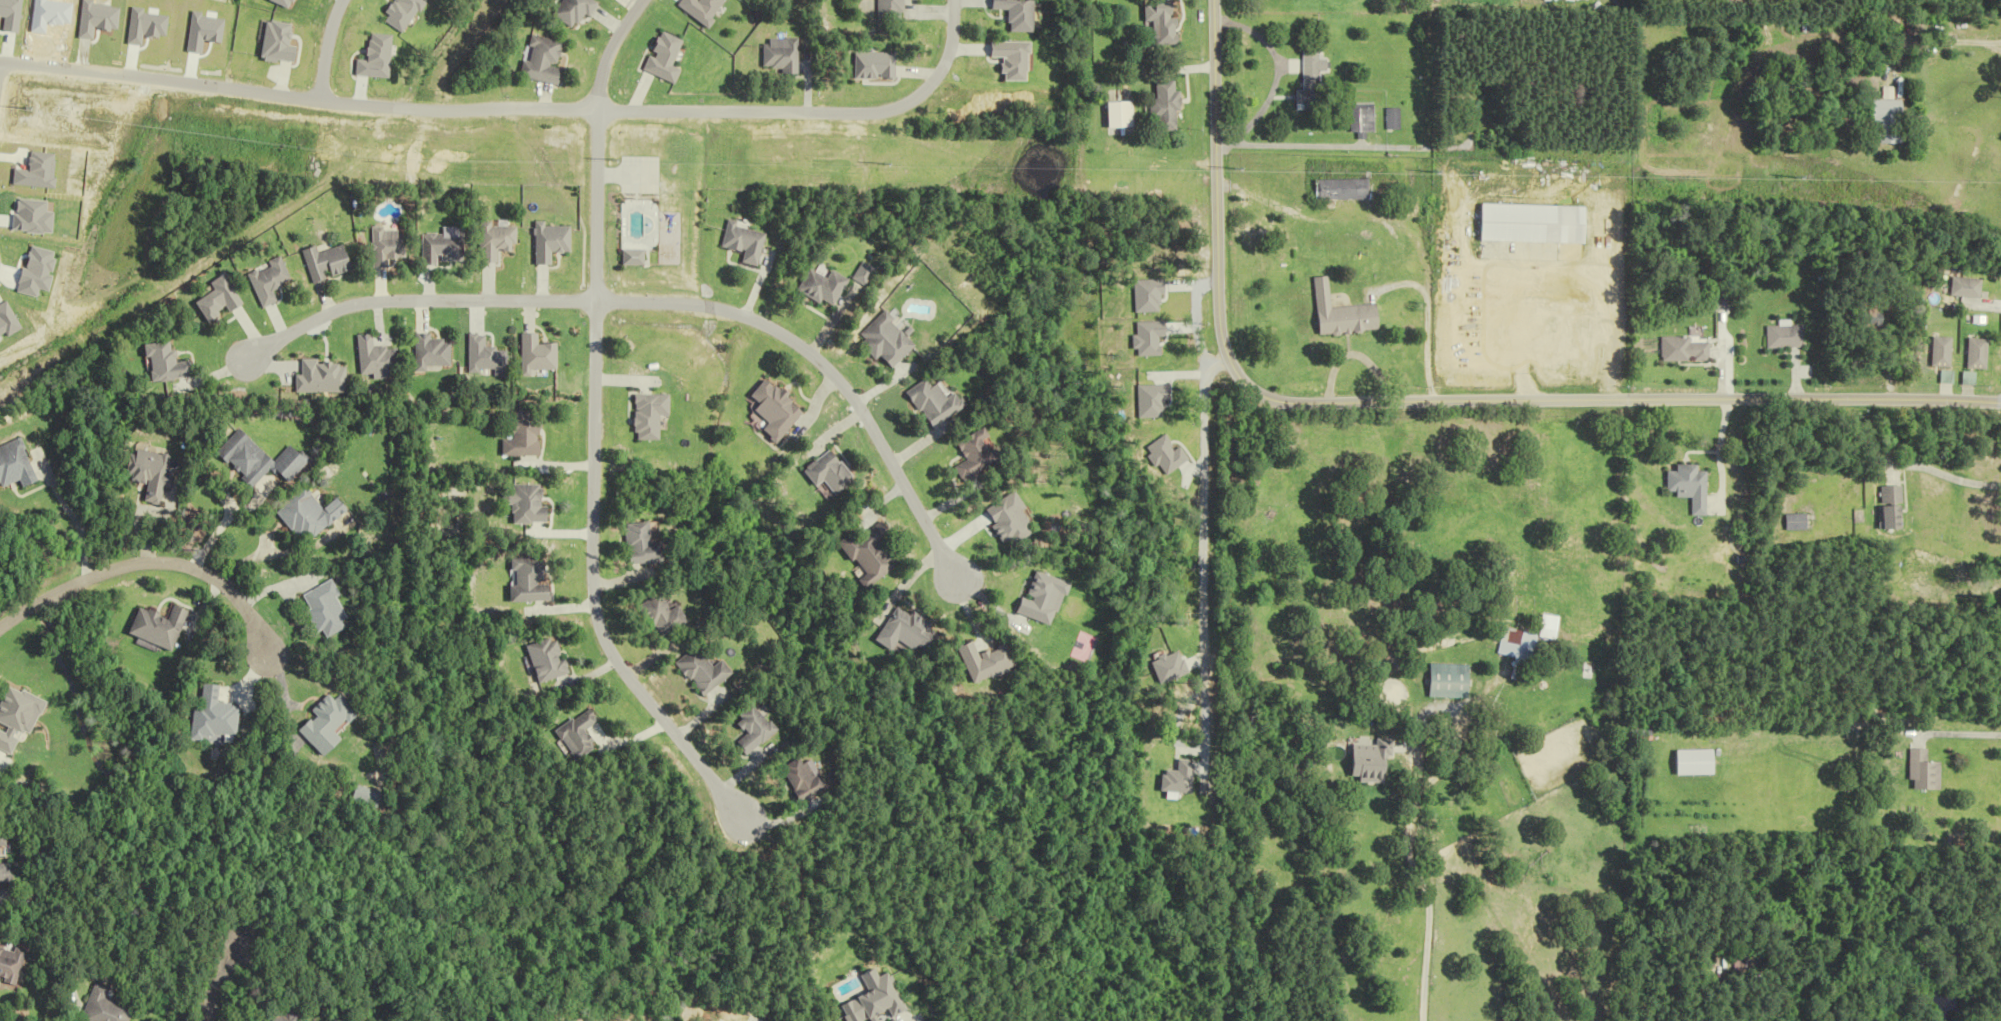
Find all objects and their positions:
building: (893, 9)
building: (1164, 21)
road: (1937, 42)
road: (326, 47)
building: (543, 59)
road: (1277, 76)
building: (1310, 81)
road: (204, 82)
building: (1166, 106)
road: (501, 109)
road: (814, 111)
building: (1123, 117)
building: (1363, 120)
building: (1883, 121)
building: (1340, 190)
building: (1529, 224)
building: (387, 246)
building: (442, 249)
building: (637, 257)
building: (327, 262)
building: (826, 287)
building: (1967, 288)
road: (411, 300)
building: (1337, 314)
building: (1870, 320)
road: (1197, 325)
building: (1785, 337)
road: (1523, 341)
building: (1682, 350)
building: (1941, 352)
building: (432, 353)
building: (1977, 355)
building: (486, 357)
road: (827, 368)
road: (1425, 400)
road: (593, 430)
building: (527, 436)
building: (979, 455)
building: (263, 459)
building: (17, 465)
building: (833, 472)
road: (1946, 474)
building: (158, 475)
building: (1686, 487)
building: (531, 504)
building: (1888, 507)
building: (311, 516)
road: (74, 520)
building: (1794, 522)
road: (1203, 550)
building: (876, 554)
road: (144, 564)
building: (531, 579)
building: (1050, 598)
building: (327, 609)
building: (669, 615)
building: (166, 627)
building: (1514, 645)
building: (708, 671)
building: (1442, 682)
building: (219, 717)
building: (20, 718)
building: (331, 725)
building: (582, 735)
building: (1639, 736)
building: (1360, 764)
building: (1917, 772)
building: (809, 778)
building: (371, 797)
building: (0, 855)
road: (1417, 858)
building: (12, 964)
road: (211, 983)
building: (108, 1007)
building: (287, 1020)

